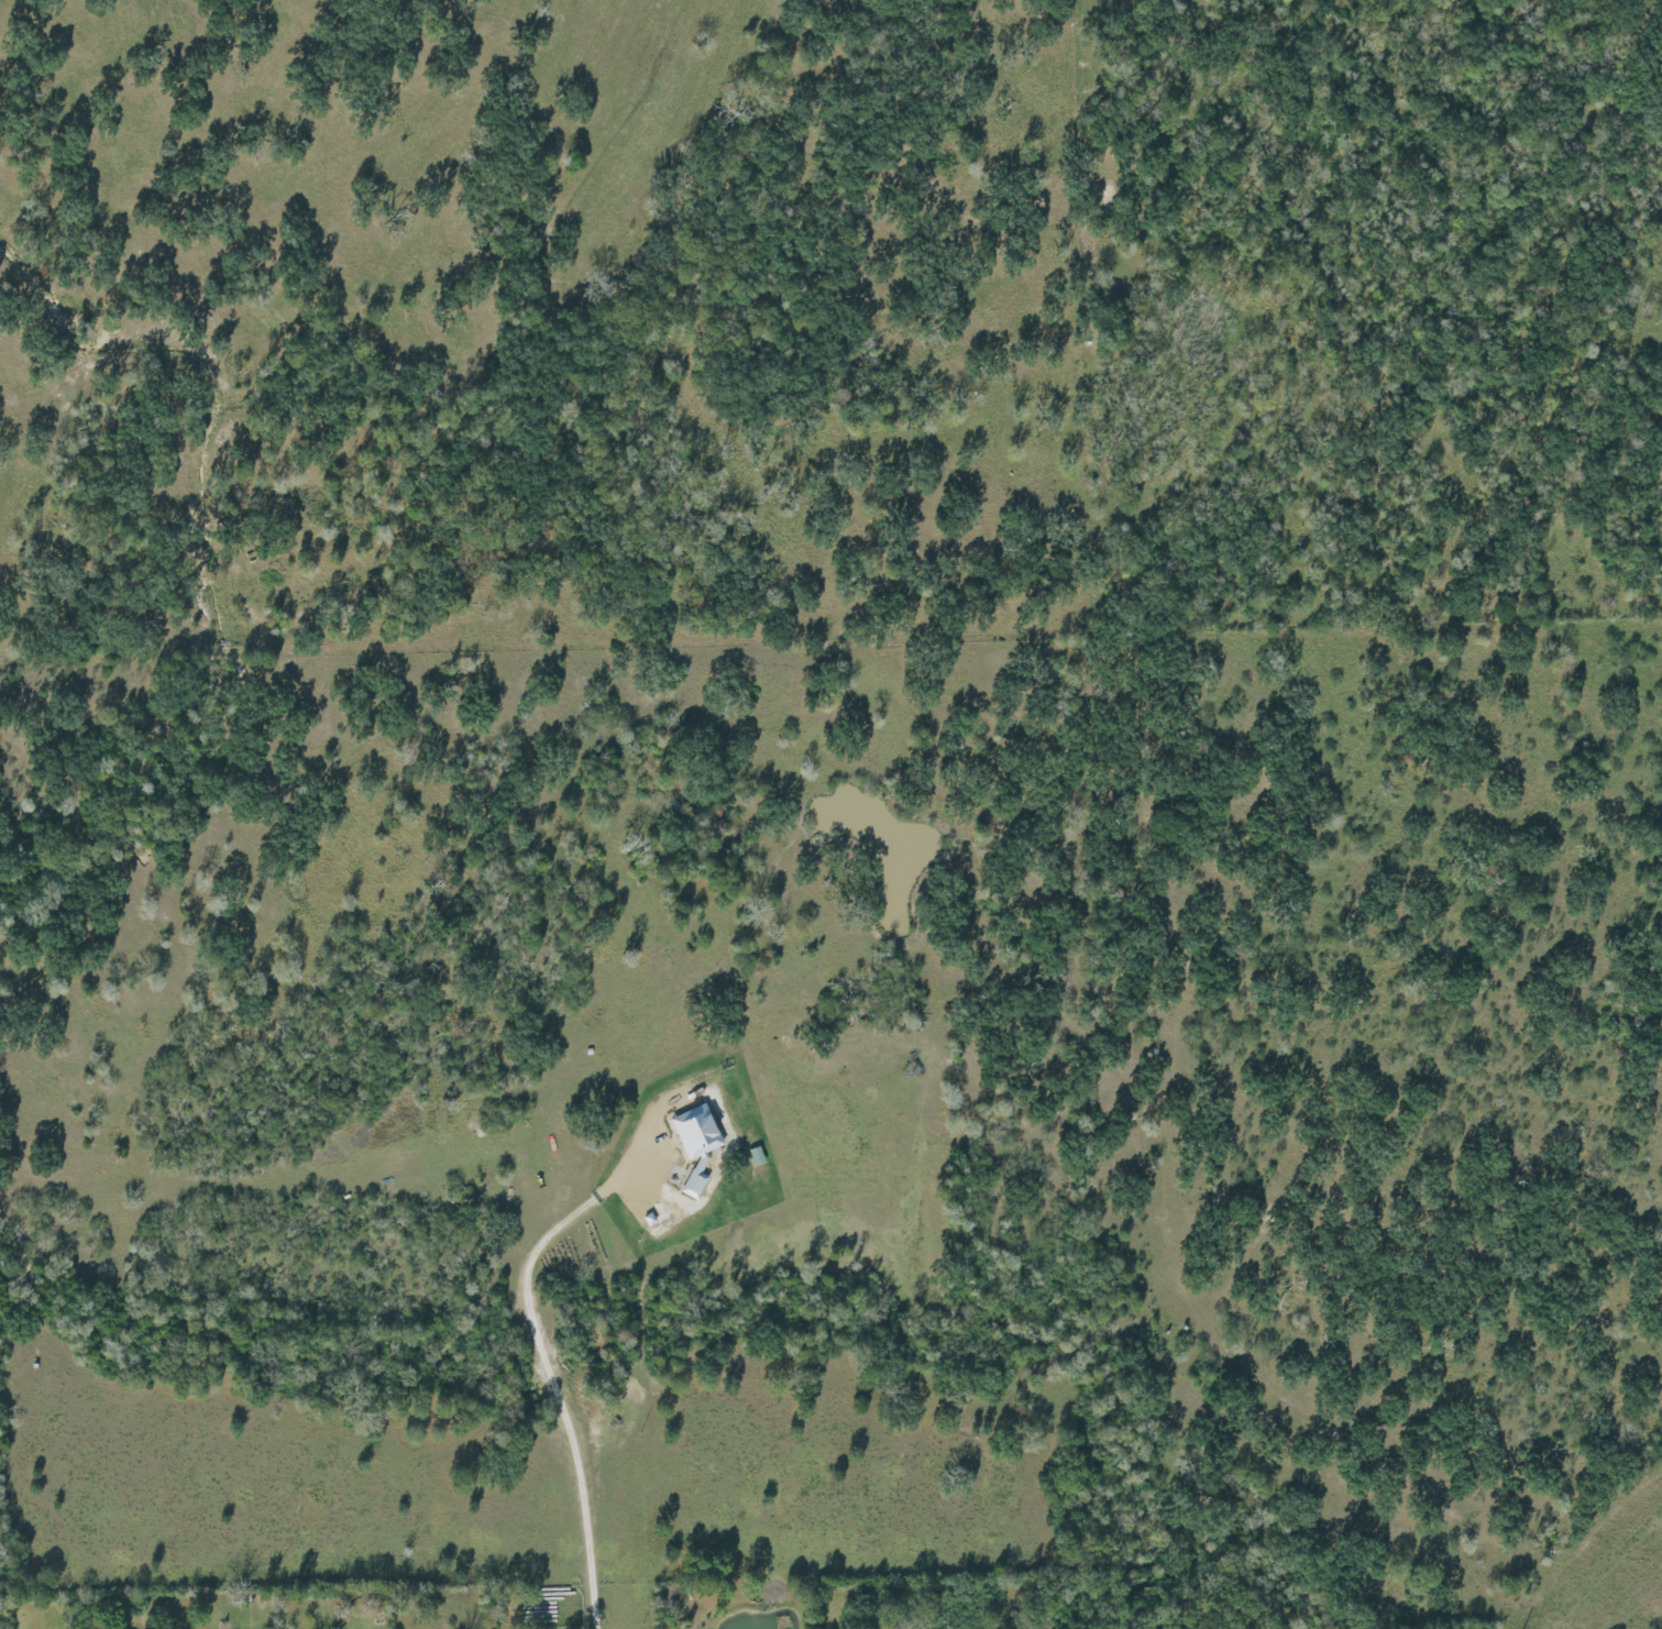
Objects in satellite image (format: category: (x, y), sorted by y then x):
building: (696, 1144)
building: (756, 1155)
road: (550, 1360)

